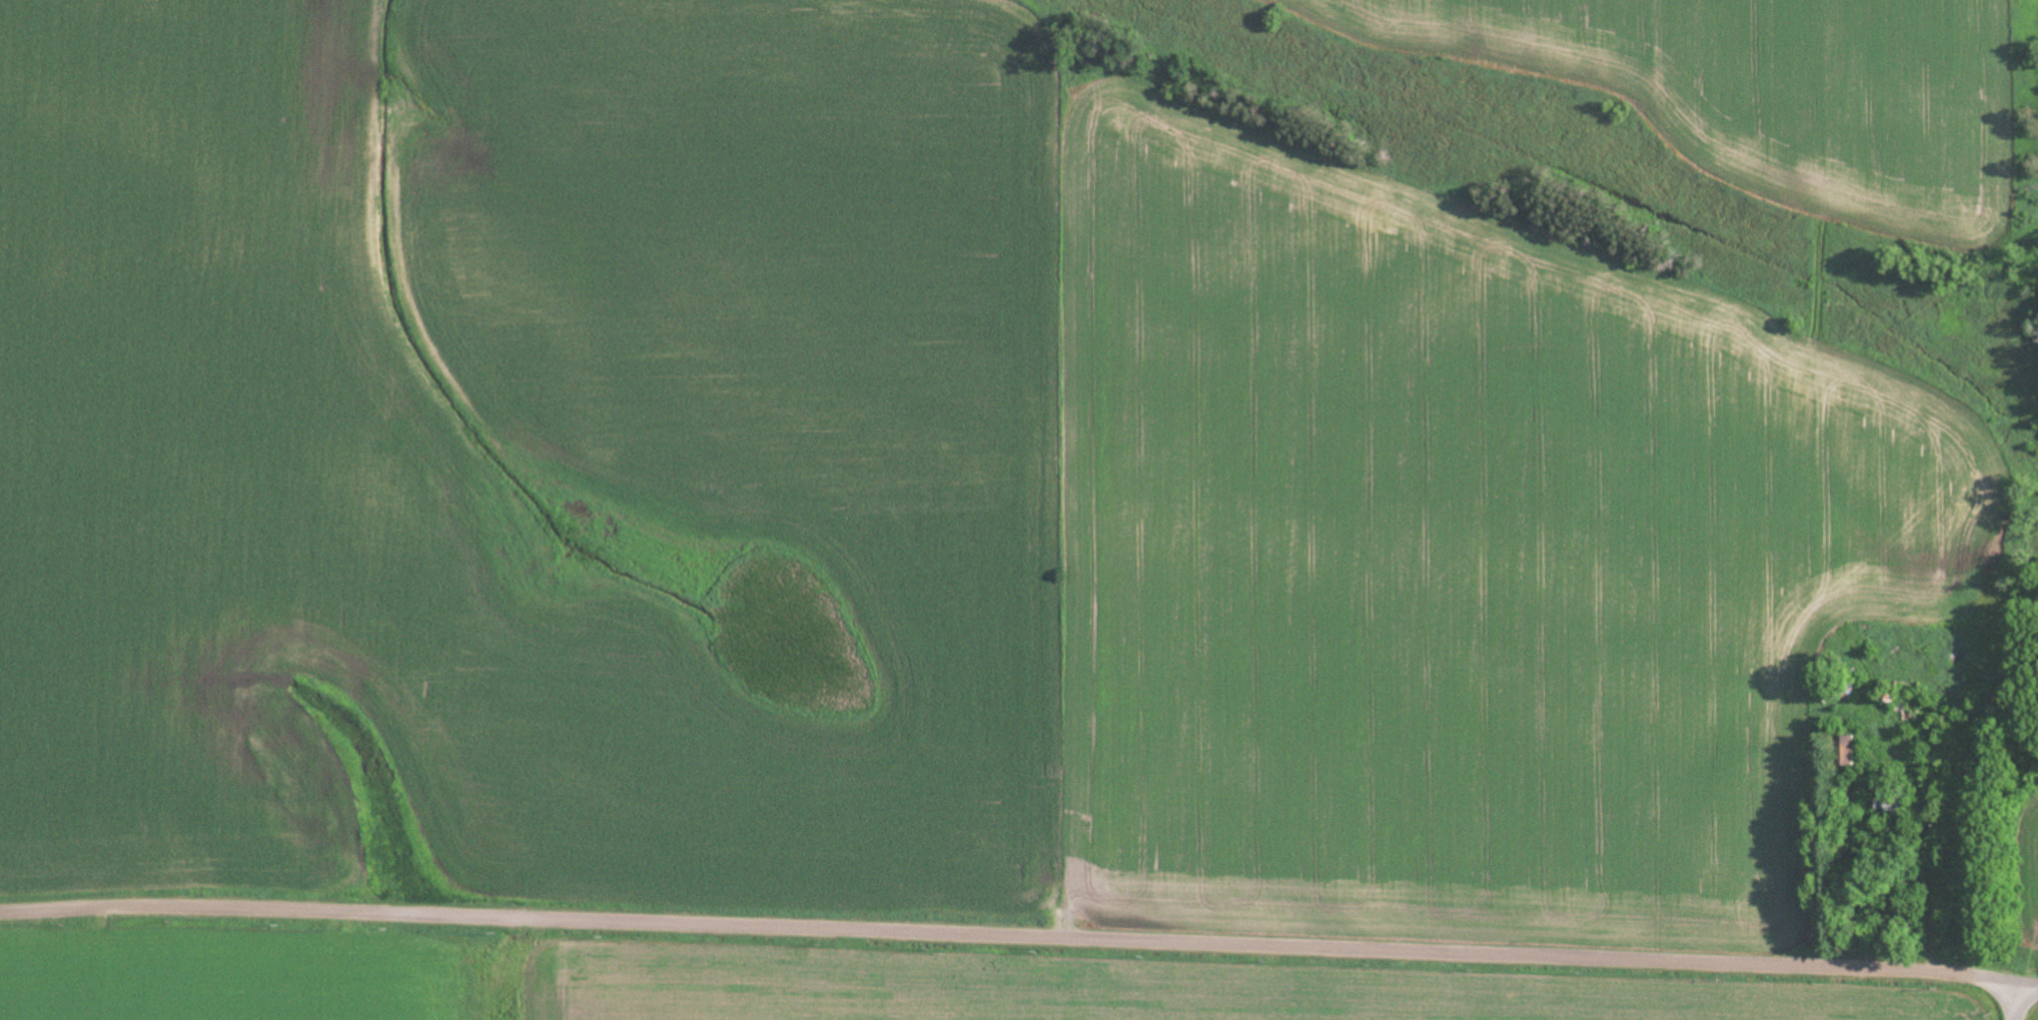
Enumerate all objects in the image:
building: (1841, 696)
building: (1841, 752)
building: (1888, 806)
road: (991, 924)
road: (2010, 975)
road: (1982, 997)

